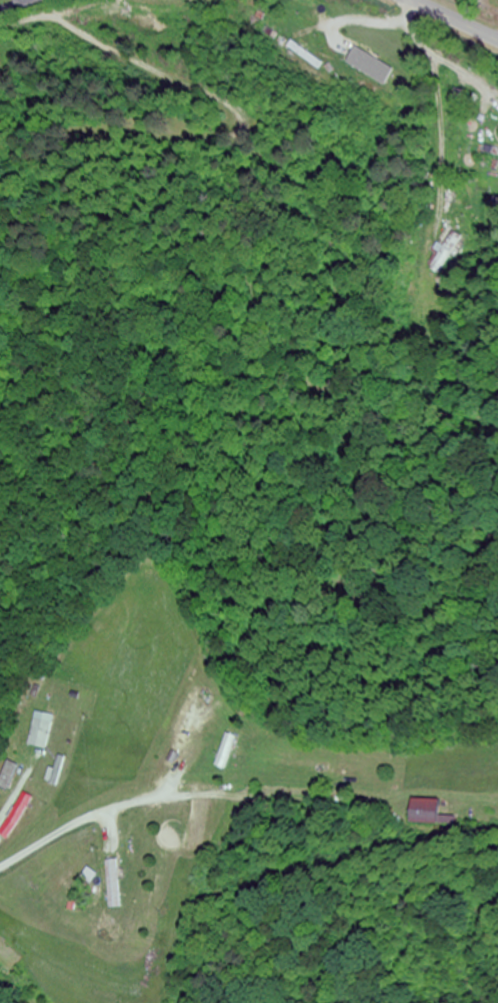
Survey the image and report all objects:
building: (214, 0)
road: (14, 5)
road: (455, 20)
building: (306, 55)
building: (361, 62)
building: (41, 730)
building: (227, 752)
building: (57, 771)
building: (7, 776)
road: (136, 792)
building: (423, 811)
building: (16, 817)
building: (115, 884)

